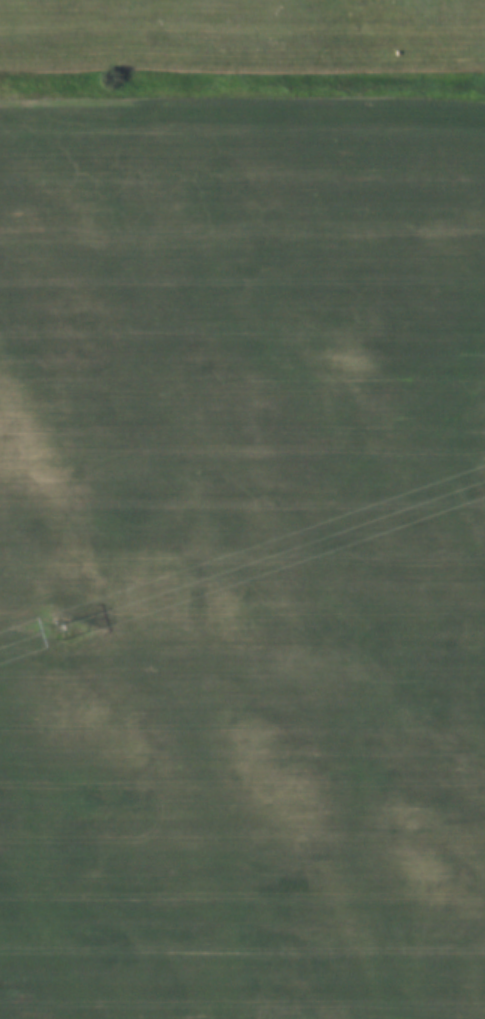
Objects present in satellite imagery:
power tower: (63, 629)

